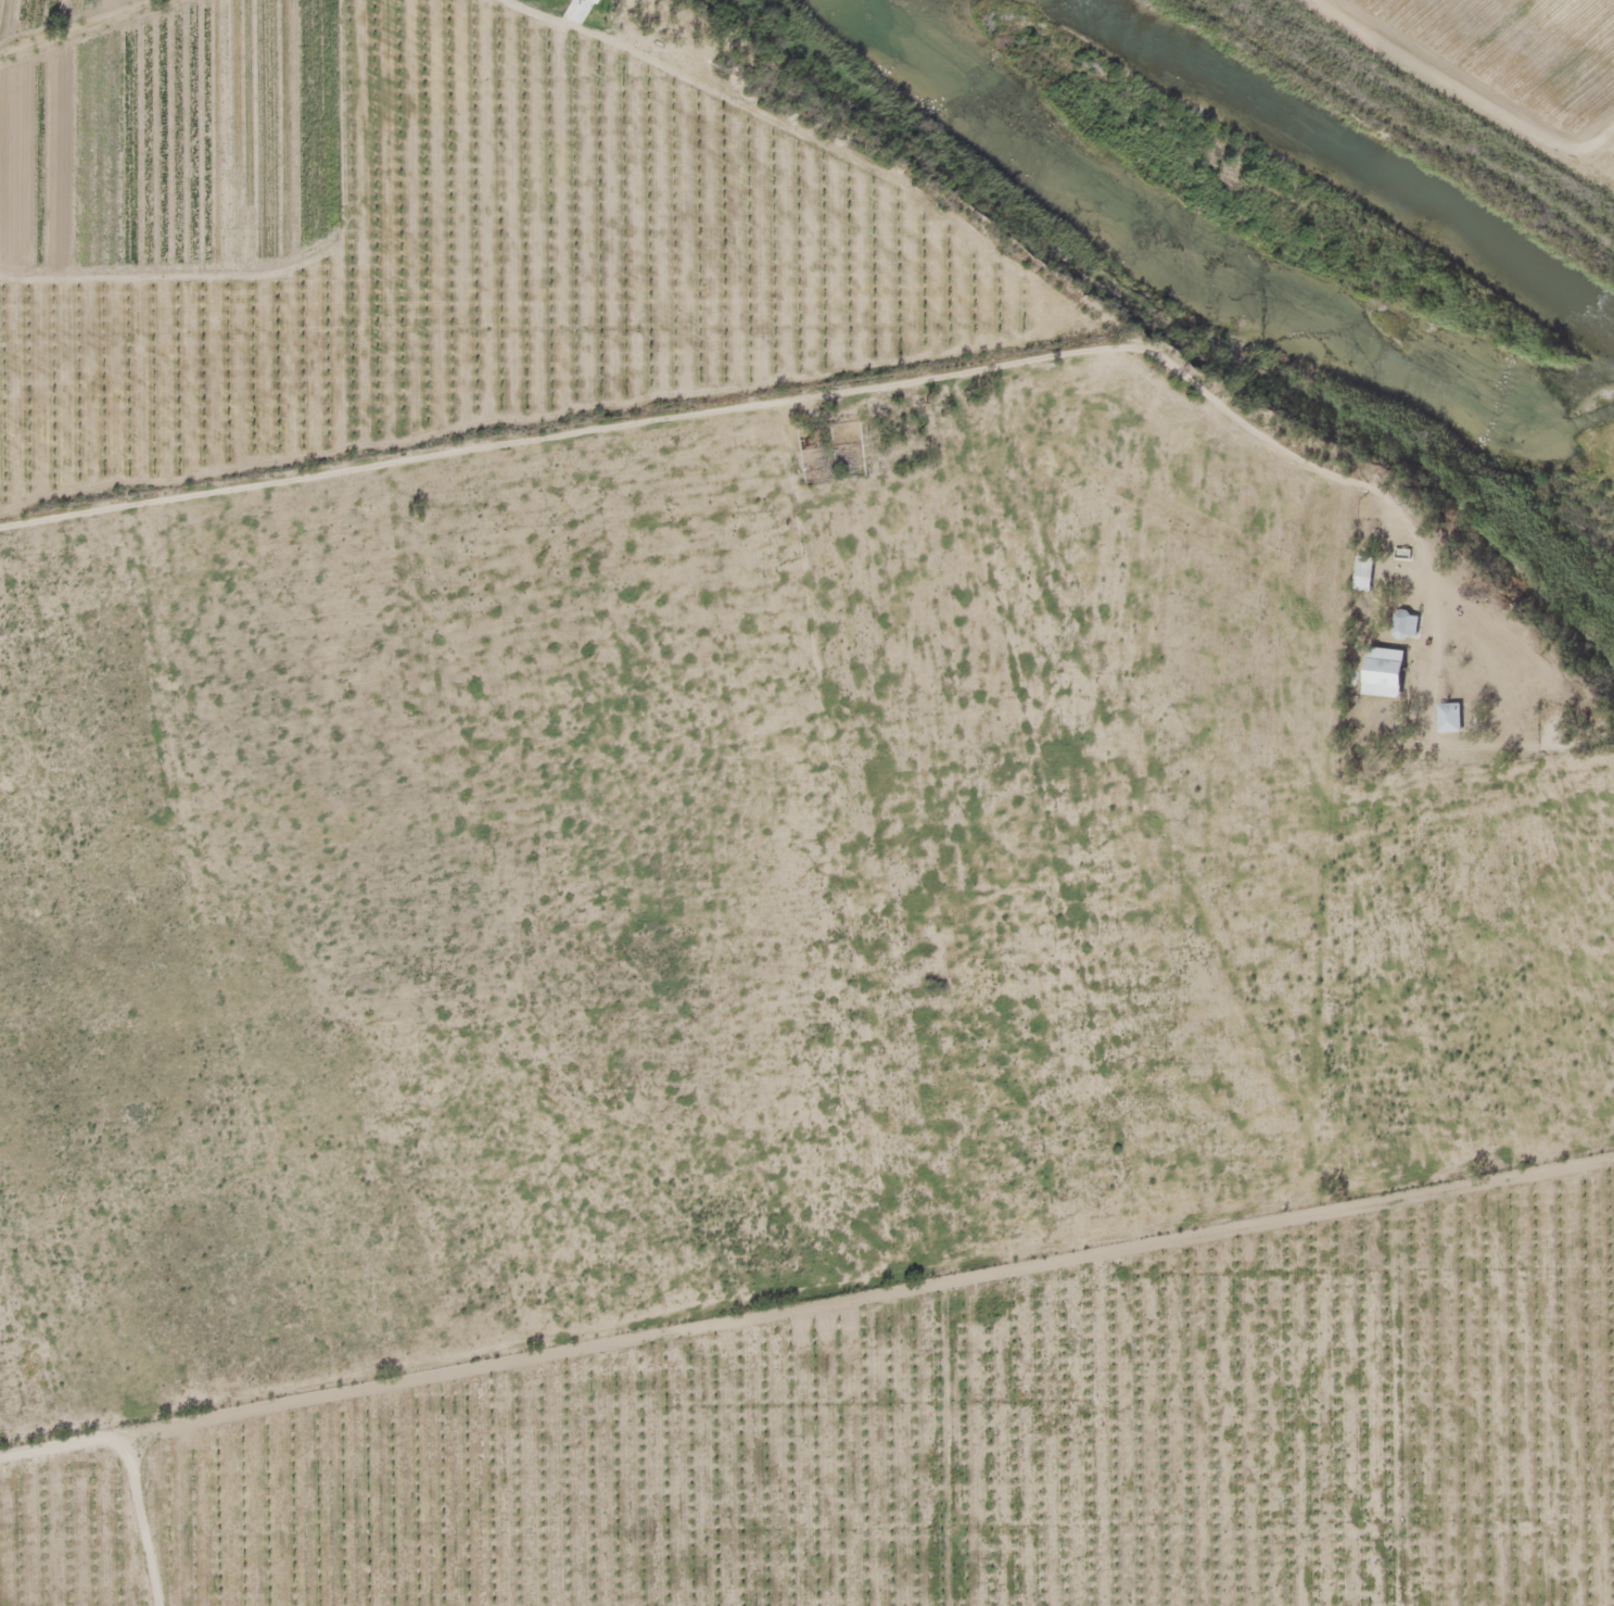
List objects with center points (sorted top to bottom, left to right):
road: (1470, 87)
river: (1349, 159)
building: (1356, 579)
building: (1398, 630)
building: (1375, 678)
building: (1441, 722)

